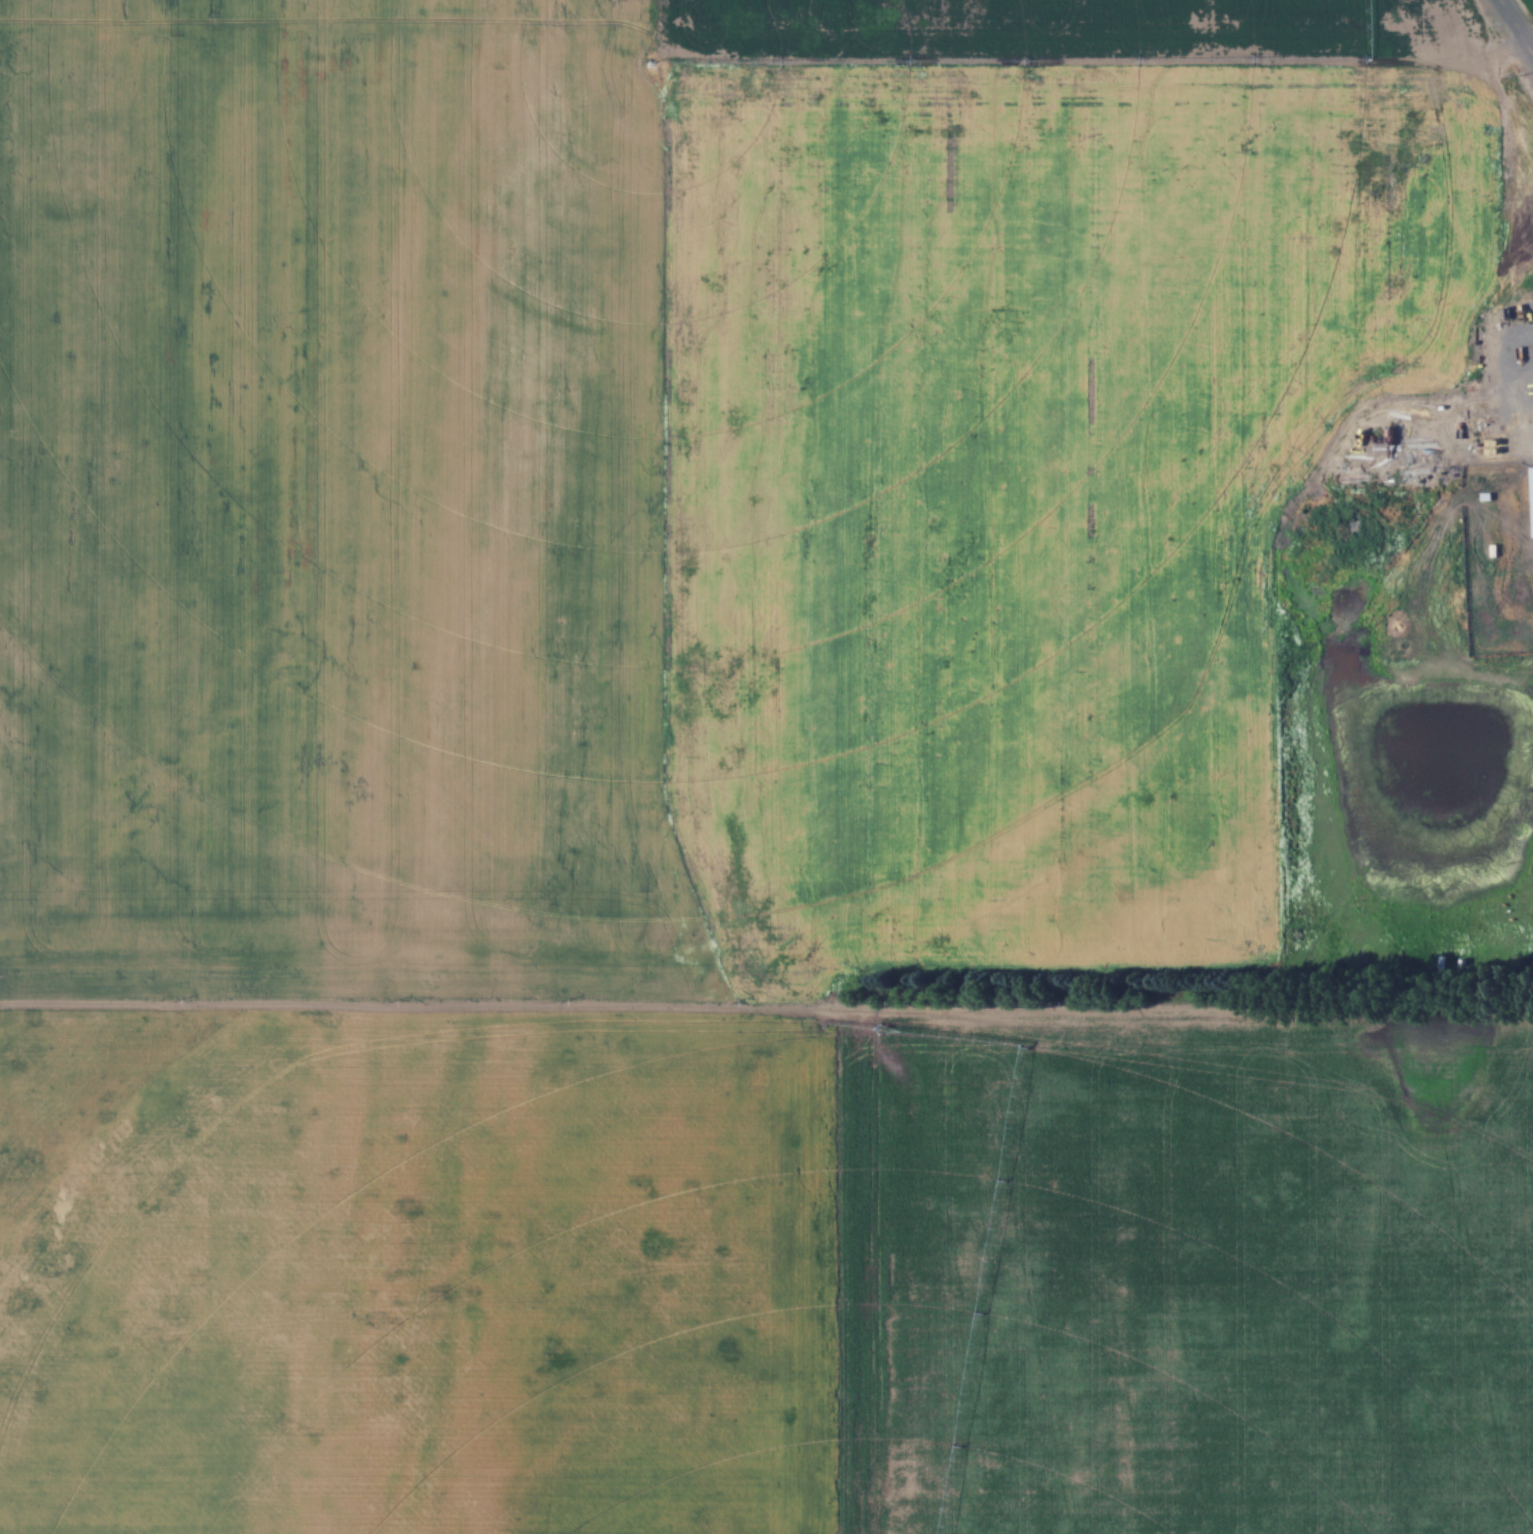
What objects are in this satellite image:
road: (1518, 22)

